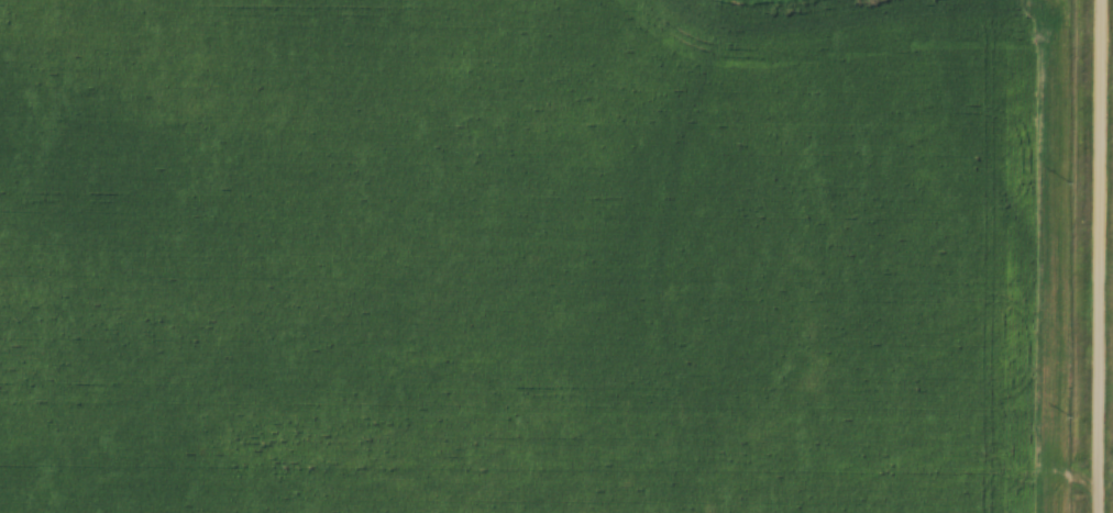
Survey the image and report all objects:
road: (1102, 256)

